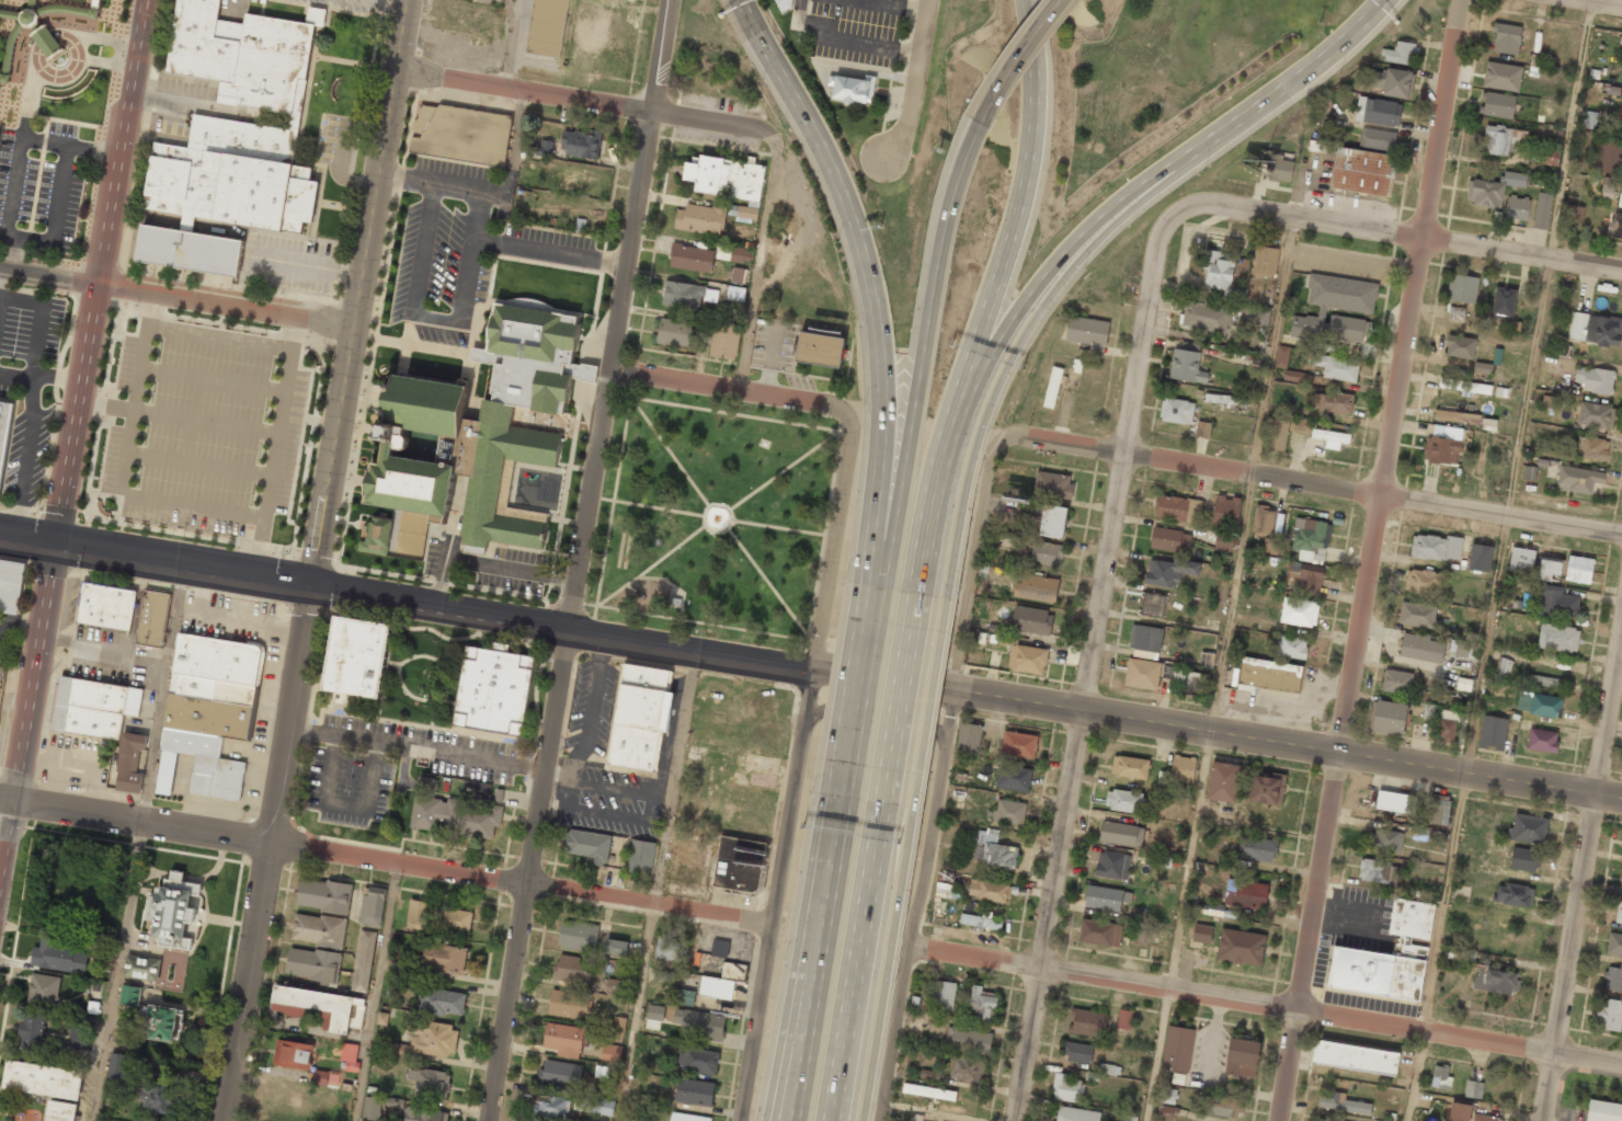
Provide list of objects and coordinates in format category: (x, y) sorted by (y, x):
building: (11, 0)
road: (1611, 1)
road: (883, 2)
building: (784, 4)
building: (80, 8)
road: (800, 15)
building: (22, 23)
building: (547, 27)
parking lot: (856, 30)
building: (1506, 38)
building: (46, 41)
road: (1024, 47)
building: (1401, 53)
road: (661, 56)
road: (1317, 60)
park: (713, 61)
building: (1503, 76)
road: (913, 81)
building: (1393, 82)
building: (852, 89)
road: (576, 99)
building: (1498, 105)
building: (1378, 111)
building: (1589, 119)
building: (460, 134)
building: (230, 138)
building: (1379, 138)
building: (1500, 139)
building: (580, 144)
building: (545, 148)
building: (1608, 155)
building: (1550, 157)
building: (1280, 169)
building: (1361, 171)
road: (407, 176)
building: (729, 181)
building: (1608, 185)
parking lot: (42, 186)
building: (1493, 188)
building: (1620, 196)
building: (1517, 207)
building: (1542, 210)
building: (1574, 214)
building: (700, 219)
building: (1617, 226)
road: (1412, 233)
road: (633, 240)
parking lot: (460, 241)
road: (1417, 245)
building: (740, 254)
building: (690, 258)
building: (1265, 260)
building: (1219, 270)
road: (866, 275)
building: (1462, 288)
road: (362, 291)
road: (148, 293)
building: (732, 293)
building: (687, 295)
building: (1504, 301)
building: (1336, 308)
building: (1455, 313)
building: (1206, 316)
building: (1258, 316)
road: (1033, 318)
road: (1146, 319)
road: (327, 324)
building: (1595, 329)
building: (1087, 330)
building: (676, 332)
road: (294, 334)
road: (925, 335)
building: (724, 341)
building: (820, 346)
building: (1460, 346)
building: (1281, 356)
building: (1187, 366)
building: (1336, 367)
building: (1483, 368)
building: (1293, 376)
road: (212, 379)
building: (1595, 379)
building: (1464, 386)
building: (1052, 387)
road: (741, 388)
building: (1224, 399)
building: (1332, 402)
road: (106, 405)
building: (1176, 411)
building: (1596, 414)
building: (1455, 415)
road: (205, 422)
building: (3, 423)
building: (1299, 424)
parking lot: (203, 427)
building: (481, 428)
building: (1202, 428)
road: (837, 433)
building: (1277, 434)
building: (1330, 437)
road: (1054, 446)
building: (1595, 448)
road: (70, 449)
building: (1441, 449)
road: (669, 450)
road: (198, 465)
road: (785, 469)
road: (1253, 477)
building: (1578, 479)
building: (1052, 484)
road: (659, 506)
building: (1177, 508)
road: (1501, 513)
park: (716, 514)
road: (262, 517)
building: (1263, 519)
building: (1053, 521)
road: (731, 523)
road: (777, 527)
building: (375, 536)
building: (1008, 539)
building: (1170, 539)
building: (1310, 539)
building: (1224, 541)
traffic signals: (56, 542)
building: (1269, 546)
road: (259, 547)
building: (1436, 547)
road: (834, 551)
building: (1047, 553)
building: (1480, 558)
road: (156, 559)
road: (1503, 560)
building: (1521, 560)
road: (651, 563)
building: (1549, 568)
building: (1578, 569)
building: (1169, 571)
road: (973, 574)
building: (1302, 575)
road: (766, 582)
road: (873, 582)
building: (1423, 582)
traffic signals: (312, 584)
building: (11, 585)
building: (1036, 588)
building: (1556, 602)
building: (1152, 605)
building: (105, 606)
building: (1299, 611)
building: (1417, 615)
building: (152, 618)
building: (1031, 620)
building: (1145, 638)
building: (1557, 638)
road: (632, 639)
building: (1290, 647)
building: (1420, 647)
building: (1466, 649)
building: (355, 656)
building: (1027, 659)
road: (1219, 667)
building: (1503, 667)
building: (1170, 673)
building: (1142, 674)
building: (1269, 675)
building: (1396, 682)
building: (1545, 682)
building: (1196, 684)
building: (492, 689)
road: (854, 697)
building: (1538, 704)
building: (94, 707)
road: (928, 710)
building: (207, 716)
building: (1390, 717)
building: (639, 719)
road: (877, 721)
building: (1447, 725)
building: (1493, 732)
building: (969, 739)
building: (1542, 741)
building: (191, 742)
road: (550, 744)
building: (1018, 744)
road: (1287, 744)
building: (128, 762)
building: (1130, 767)
building: (1183, 768)
road: (673, 777)
building: (217, 778)
building: (1013, 778)
building: (1223, 781)
road: (1070, 789)
building: (1267, 789)
building: (1124, 801)
building: (1395, 802)
road: (1328, 807)
building: (1009, 812)
building: (1439, 812)
building: (449, 813)
road: (136, 819)
building: (1528, 828)
building: (1121, 834)
building: (1384, 840)
building: (587, 845)
building: (1258, 848)
road: (830, 850)
building: (993, 850)
road: (271, 853)
building: (640, 856)
building: (686, 859)
building: (1524, 859)
building: (739, 865)
building: (1112, 865)
building: (1374, 870)
road: (1580, 877)
road: (522, 882)
building: (1621, 884)
building: (989, 891)
building: (1246, 894)
building: (1514, 894)
building: (324, 895)
road: (775, 895)
building: (1106, 897)
building: (372, 905)
road: (916, 905)
building: (175, 911)
building: (1619, 913)
building: (418, 915)
building: (452, 919)
road: (839, 920)
building: (981, 920)
building: (319, 929)
building: (1099, 933)
building: (1201, 933)
building: (578, 936)
building: (1614, 943)
building: (616, 947)
building: (1241, 947)
building: (666, 948)
building: (719, 948)
building: (59, 957)
building: (1387, 957)
building: (444, 958)
building: (363, 961)
building: (313, 964)
building: (141, 968)
building: (573, 968)
road: (810, 968)
road: (119, 971)
road: (886, 971)
building: (1613, 979)
building: (1496, 980)
building: (722, 981)
building: (613, 987)
building: (44, 990)
road: (379, 992)
building: (944, 994)
building: (129, 995)
building: (684, 997)
building: (442, 1002)
building: (980, 1003)
building: (569, 1005)
building: (320, 1007)
road: (1265, 1008)
road: (635, 1013)
building: (1610, 1015)
building: (1124, 1019)
building: (1086, 1021)
building: (163, 1022)
building: (696, 1023)
building: (619, 1025)
building: (32, 1030)
building: (80, 1031)
road: (841, 1036)
building: (564, 1039)
building: (429, 1040)
building: (968, 1040)
building: (1177, 1049)
building: (1078, 1052)
building: (610, 1053)
building: (293, 1054)
building: (350, 1056)
building: (1242, 1057)
building: (1356, 1057)
building: (698, 1061)
building: (117, 1066)
building: (967, 1069)
building: (1109, 1069)
building: (602, 1072)
building: (560, 1073)
building: (320, 1077)
building: (1440, 1077)
building: (43, 1079)
building: (430, 1083)
road: (788, 1083)
road: (792, 1083)
building: (1065, 1088)
building: (1473, 1089)
building: (694, 1091)
building: (928, 1091)
building: (1168, 1096)
building: (160, 1097)
building: (579, 1102)
building: (1344, 1103)
building: (551, 1106)
building: (601, 1106)
building: (379, 1107)
building: (60, 1111)
building: (1603, 1111)
building: (1166, 1112)
building: (1460, 1112)
building: (425, 1114)
building: (1076, 1114)
building: (687, 1117)
building: (1127, 1118)
building: (1484, 1118)
building: (628, 1120)
building: (1321, 1120)

